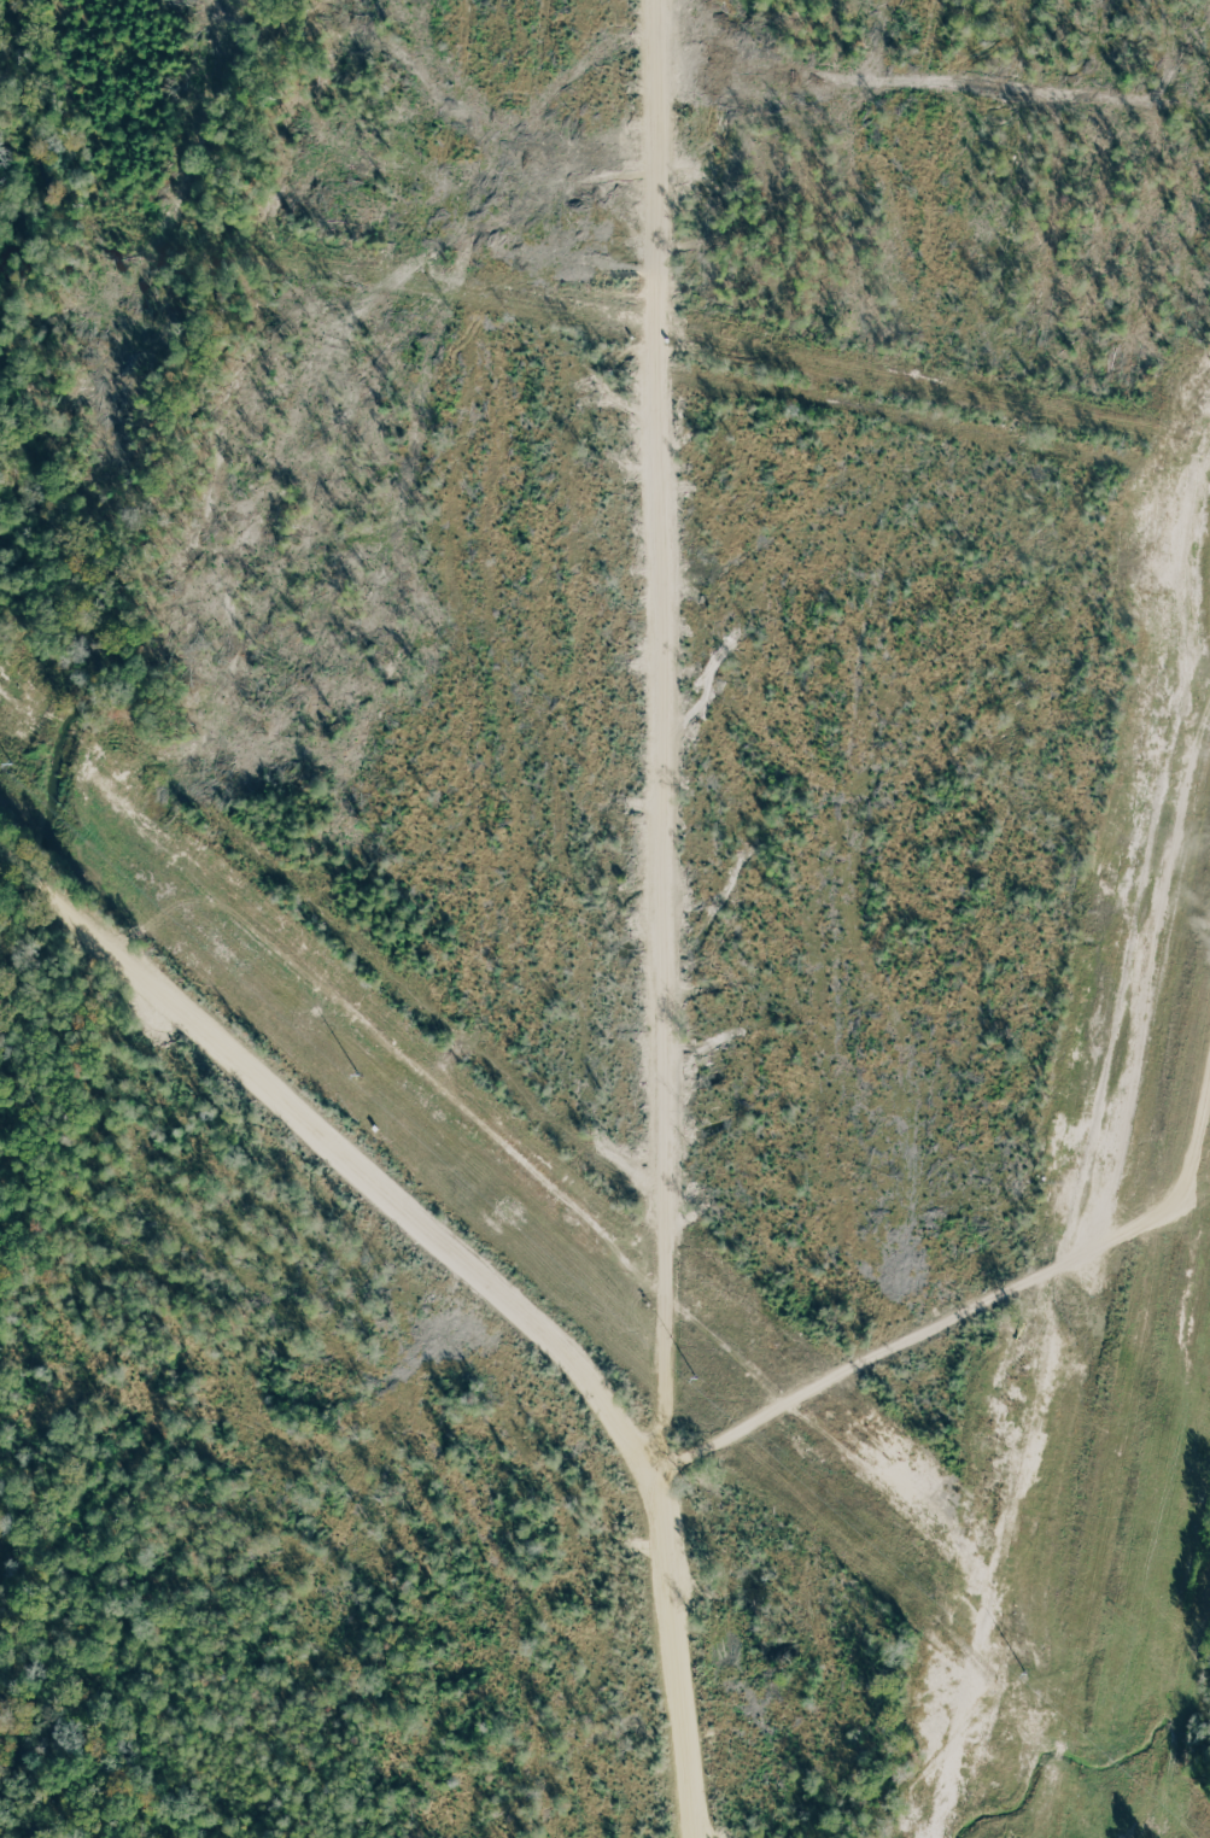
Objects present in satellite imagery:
power tower: (16, 775)
road: (702, 919)
power tower: (364, 1084)
road: (352, 1148)
road: (939, 1281)
power tower: (714, 1391)
power tower: (1054, 1703)

